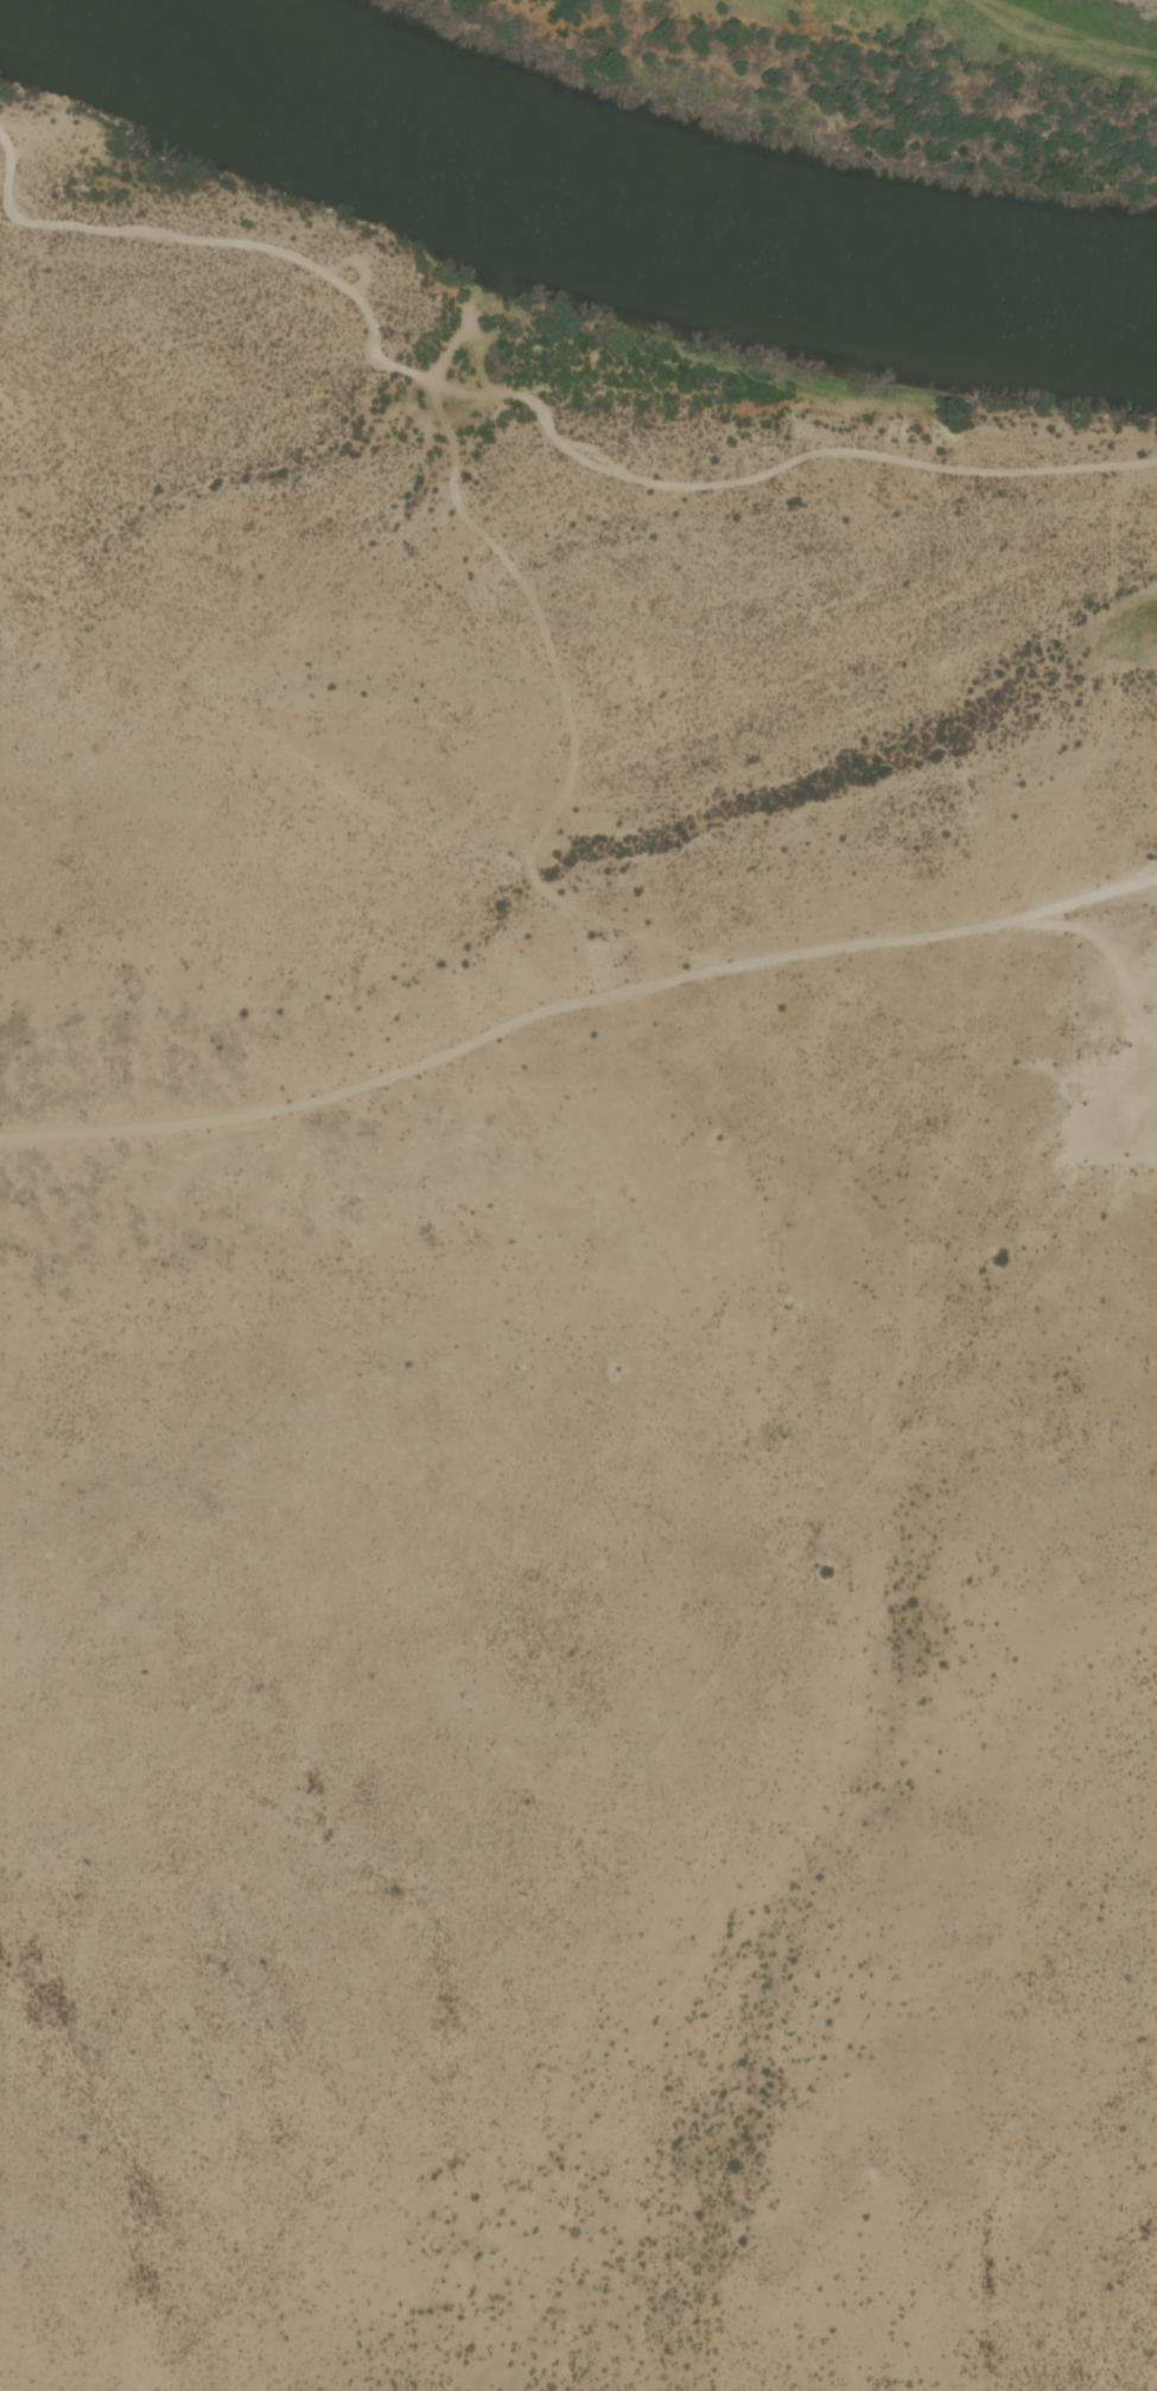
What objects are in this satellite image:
river: (628, 198)
road: (527, 397)
road: (1060, 911)
road: (1101, 977)
road: (482, 1040)

